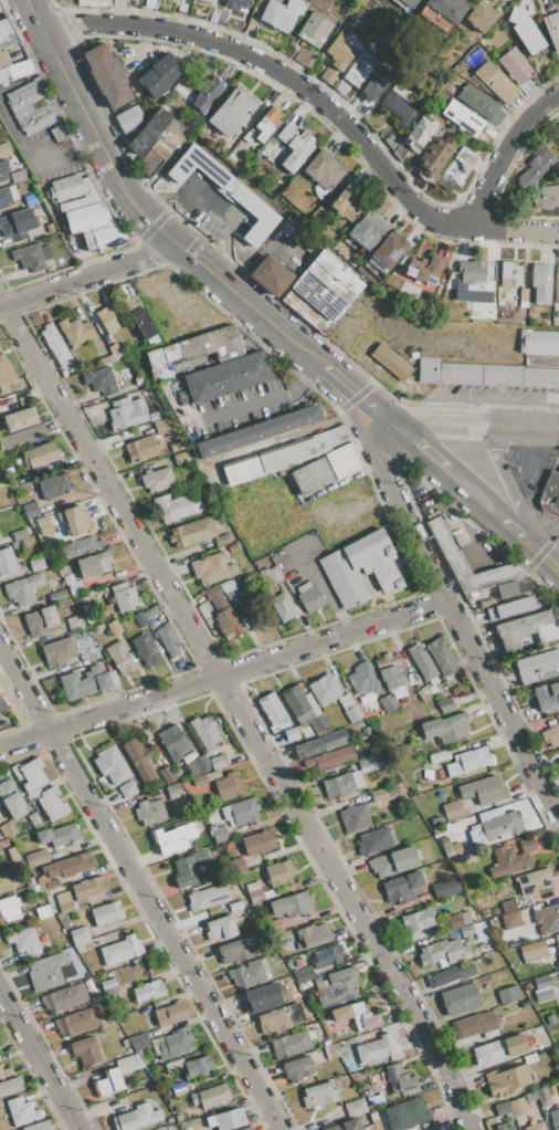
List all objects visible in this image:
building: (209, 0)
building: (409, 2)
building: (150, 3)
building: (236, 3)
building: (181, 6)
building: (446, 11)
building: (282, 13)
road: (36, 15)
building: (482, 15)
building: (516, 15)
building: (552, 29)
building: (314, 30)
building: (7, 34)
building: (528, 35)
building: (355, 44)
building: (340, 51)
building: (304, 56)
building: (3, 59)
building: (515, 65)
building: (19, 70)
building: (359, 70)
road: (281, 74)
building: (329, 75)
building: (106, 76)
building: (159, 76)
building: (495, 82)
building: (376, 84)
road: (14, 87)
building: (208, 95)
building: (481, 103)
building: (402, 105)
building: (36, 111)
building: (231, 112)
building: (462, 117)
building: (129, 118)
building: (266, 124)
building: (149, 132)
building: (419, 134)
road: (98, 142)
building: (295, 147)
building: (4, 150)
building: (435, 155)
road: (504, 156)
road: (31, 159)
building: (152, 159)
building: (535, 168)
building: (456, 169)
building: (3, 170)
building: (324, 170)
building: (18, 176)
building: (226, 191)
building: (12, 192)
building: (547, 197)
building: (4, 198)
building: (30, 199)
building: (345, 203)
road: (207, 207)
building: (84, 212)
building: (17, 224)
building: (289, 227)
building: (367, 230)
road: (513, 231)
building: (389, 250)
building: (31, 255)
building: (424, 270)
building: (475, 274)
building: (509, 274)
building: (271, 275)
road: (87, 276)
building: (541, 283)
building: (556, 283)
building: (327, 286)
road: (234, 294)
building: (523, 297)
building: (131, 304)
road: (1, 305)
building: (108, 317)
building: (143, 323)
building: (75, 332)
building: (538, 342)
building: (55, 346)
building: (196, 348)
building: (115, 352)
building: (105, 359)
building: (390, 362)
building: (6, 369)
building: (124, 374)
building: (485, 374)
building: (225, 377)
building: (101, 380)
building: (138, 381)
road: (344, 390)
road: (267, 396)
road: (489, 396)
building: (183, 397)
building: (128, 414)
building: (162, 414)
road: (354, 418)
building: (20, 419)
building: (162, 426)
road: (475, 427)
building: (259, 431)
road: (292, 436)
building: (20, 437)
road: (424, 439)
building: (176, 446)
building: (141, 448)
building: (40, 454)
building: (285, 456)
building: (180, 458)
building: (342, 461)
building: (18, 463)
building: (312, 477)
building: (157, 480)
road: (440, 481)
road: (505, 482)
building: (1, 483)
road: (523, 485)
building: (54, 486)
road: (481, 488)
building: (550, 494)
road: (352, 504)
building: (177, 506)
building: (30, 510)
building: (75, 520)
building: (41, 521)
building: (44, 529)
road: (508, 529)
road: (455, 530)
building: (191, 532)
building: (22, 534)
building: (219, 541)
building: (445, 543)
building: (18, 544)
building: (80, 547)
building: (233, 547)
road: (538, 553)
building: (7, 561)
building: (36, 564)
building: (94, 564)
building: (212, 567)
building: (360, 568)
building: (274, 574)
building: (72, 585)
building: (515, 587)
building: (24, 588)
building: (56, 596)
building: (125, 597)
building: (309, 597)
building: (232, 598)
building: (82, 599)
building: (486, 603)
building: (283, 607)
building: (509, 608)
building: (223, 613)
building: (254, 614)
building: (145, 615)
building: (41, 621)
building: (75, 622)
road: (457, 626)
building: (529, 627)
building: (114, 628)
building: (168, 640)
building: (146, 650)
building: (57, 651)
building: (441, 656)
building: (97, 657)
building: (119, 657)
building: (421, 661)
building: (84, 662)
building: (537, 667)
building: (392, 676)
building: (113, 678)
road: (223, 678)
building: (363, 679)
building: (84, 683)
building: (324, 689)
building: (547, 695)
building: (346, 701)
building: (386, 702)
building: (2, 705)
building: (445, 705)
building: (271, 708)
building: (304, 708)
road: (241, 712)
building: (354, 714)
building: (445, 728)
building: (204, 731)
building: (291, 734)
building: (550, 735)
building: (173, 742)
building: (319, 744)
building: (439, 756)
building: (138, 758)
building: (330, 758)
building: (558, 760)
building: (468, 761)
building: (218, 762)
building: (369, 762)
building: (112, 765)
building: (197, 765)
building: (426, 774)
building: (167, 775)
building: (204, 778)
building: (341, 784)
building: (229, 786)
building: (128, 788)
building: (483, 789)
building: (32, 791)
building: (173, 791)
building: (160, 793)
building: (378, 795)
building: (11, 799)
building: (453, 810)
building: (149, 812)
building: (241, 812)
building: (354, 817)
building: (33, 819)
building: (436, 819)
building: (503, 825)
building: (10, 828)
building: (239, 830)
building: (57, 835)
building: (220, 835)
building: (173, 838)
building: (373, 840)
building: (257, 843)
building: (445, 847)
building: (511, 857)
building: (36, 858)
building: (393, 861)
building: (68, 865)
building: (236, 865)
building: (189, 868)
building: (279, 873)
building: (4, 881)
building: (534, 881)
building: (52, 883)
road: (141, 886)
building: (253, 886)
building: (88, 888)
building: (402, 888)
building: (445, 888)
building: (270, 893)
building: (208, 897)
building: (255, 897)
building: (62, 898)
building: (292, 904)
building: (235, 906)
building: (508, 906)
building: (65, 907)
building: (9, 910)
building: (249, 910)
building: (494, 911)
building: (485, 912)
building: (106, 913)
building: (465, 918)
building: (547, 919)
building: (416, 920)
building: (510, 920)
building: (454, 921)
building: (221, 928)
building: (466, 930)
building: (78, 935)
building: (312, 935)
building: (557, 939)
building: (24, 941)
building: (558, 949)
building: (120, 950)
building: (234, 951)
building: (532, 951)
building: (443, 953)
building: (326, 956)
building: (46, 972)
building: (250, 973)
building: (302, 974)
building: (450, 975)
building: (541, 982)
building: (527, 986)
building: (338, 987)
building: (148, 991)
building: (508, 994)
building: (542, 994)
building: (63, 997)
building: (263, 997)
building: (460, 1000)
building: (525, 1005)
building: (558, 1009)
building: (170, 1013)
building: (295, 1013)
building: (340, 1014)
building: (365, 1017)
building: (273, 1021)
building: (76, 1022)
building: (474, 1024)
building: (539, 1029)
building: (138, 1042)
building: (156, 1044)
building: (176, 1044)
building: (291, 1044)
building: (514, 1045)
building: (340, 1048)
building: (85, 1050)
building: (377, 1050)
building: (488, 1051)
building: (344, 1055)
building: (140, 1057)
building: (541, 1057)
road: (41, 1058)
building: (529, 1058)
building: (345, 1061)
building: (126, 1064)
building: (173, 1065)
building: (199, 1067)
building: (297, 1069)
building: (6, 1073)
building: (399, 1079)
building: (507, 1079)
building: (109, 1082)
building: (10, 1086)
building: (179, 1088)
building: (368, 1094)
building: (318, 1095)
building: (542, 1095)
building: (211, 1096)
building: (529, 1096)
building: (375, 1099)
building: (517, 1106)
building: (355, 1107)
building: (502, 1108)
building: (22, 1111)
building: (407, 1115)
building: (178, 1117)
building: (137, 1118)
building: (555, 1118)
building: (226, 1119)
building: (375, 1121)
building: (38, 1126)
building: (187, 1126)
building: (347, 1126)
building: (503, 1127)
building: (535, 1127)
building: (247, 1128)
building: (431, 1128)
building: (238, 1129)

